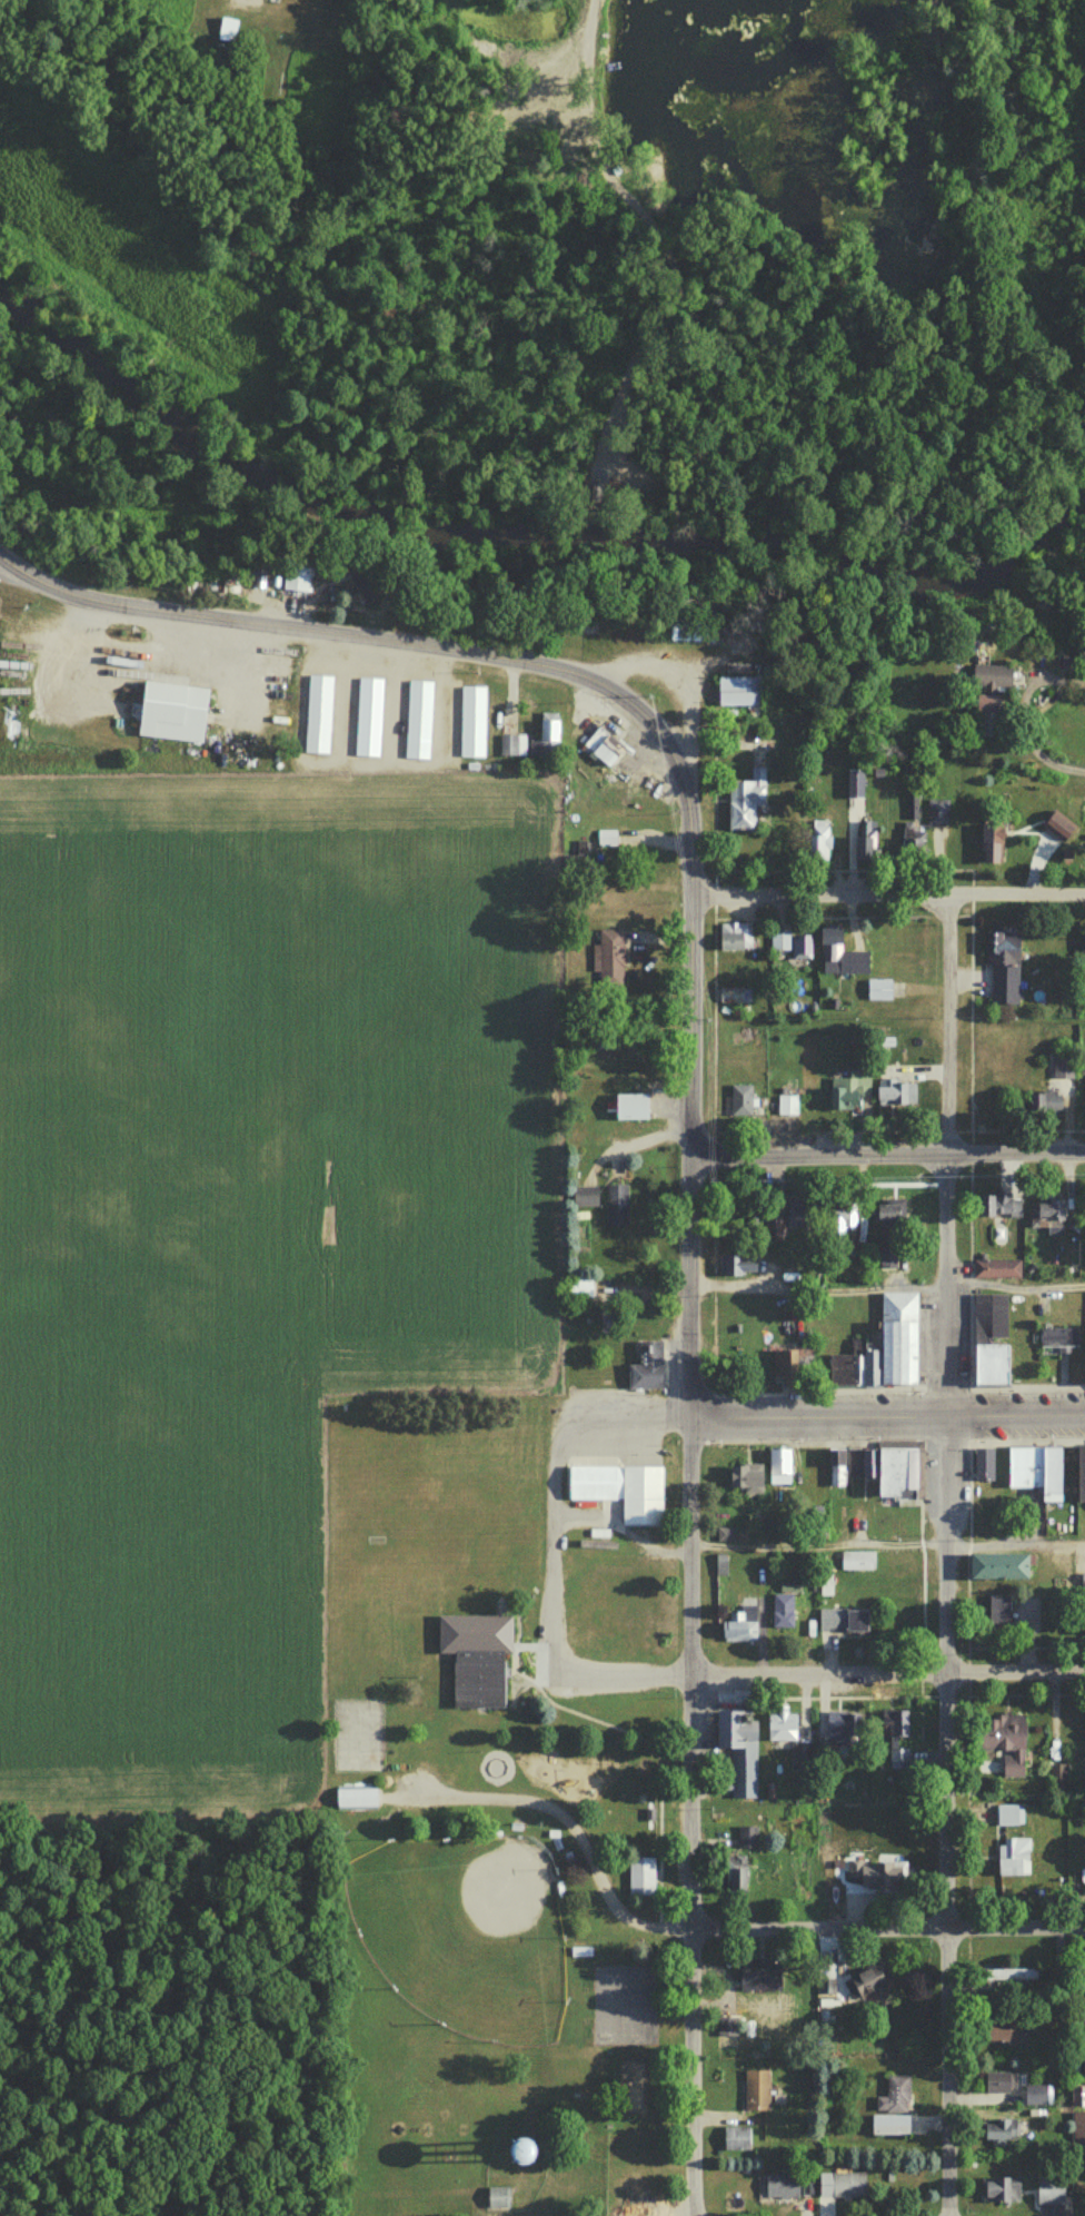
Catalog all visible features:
building: (226, 26)
building: (296, 573)
building: (365, 586)
building: (686, 631)
building: (738, 692)
building: (988, 698)
building: (178, 712)
building: (318, 713)
building: (369, 716)
building: (417, 719)
building: (471, 722)
road: (1024, 726)
road: (660, 728)
building: (546, 740)
building: (511, 746)
building: (605, 750)
building: (745, 801)
building: (934, 814)
building: (1056, 824)
building: (818, 840)
building: (868, 840)
building: (995, 842)
building: (915, 847)
building: (578, 858)
road: (886, 890)
building: (734, 936)
building: (779, 940)
building: (1084, 943)
building: (800, 946)
building: (839, 954)
building: (608, 957)
building: (1002, 967)
building: (878, 989)
building: (734, 995)
building: (1062, 1065)
building: (892, 1087)
building: (848, 1090)
building: (746, 1102)
building: (1044, 1102)
building: (786, 1105)
building: (629, 1106)
road: (884, 1152)
building: (585, 1196)
building: (616, 1203)
building: (998, 1205)
building: (888, 1210)
building: (1048, 1214)
building: (838, 1221)
building: (788, 1226)
building: (886, 1250)
building: (741, 1265)
building: (995, 1268)
road: (1016, 1285)
road: (814, 1287)
building: (578, 1288)
building: (988, 1316)
building: (882, 1348)
building: (988, 1364)
building: (789, 1365)
building: (646, 1367)
road: (883, 1414)
building: (858, 1463)
building: (983, 1465)
building: (778, 1466)
building: (835, 1467)
building: (1035, 1470)
building: (898, 1472)
building: (1079, 1473)
building: (744, 1477)
building: (619, 1490)
building: (726, 1534)
road: (885, 1541)
road: (967, 1544)
road: (549, 1551)
road: (946, 1552)
building: (856, 1561)
building: (998, 1563)
building: (1083, 1605)
building: (782, 1611)
building: (997, 1613)
building: (828, 1620)
building: (855, 1622)
building: (738, 1625)
building: (476, 1654)
road: (885, 1670)
building: (780, 1727)
building: (842, 1728)
building: (1004, 1741)
building: (738, 1749)
building: (897, 1759)
building: (355, 1799)
building: (1006, 1814)
road: (686, 1817)
road: (570, 1827)
building: (746, 1838)
building: (1012, 1857)
building: (883, 1874)
building: (640, 1876)
building: (736, 1876)
road: (886, 1925)
park: (464, 1931)
building: (579, 1951)
building: (1009, 1973)
building: (757, 1976)
building: (1082, 1976)
building: (868, 1980)
building: (1001, 2030)
building: (998, 2083)
building: (756, 2089)
building: (893, 2095)
building: (1035, 2095)
building: (1077, 2106)
building: (888, 2125)
building: (998, 2130)
building: (736, 2138)
water tower: (555, 2149)
building: (514, 2153)
building: (840, 2185)
building: (780, 2186)
building: (999, 2190)
building: (1048, 2190)
building: (497, 2198)

